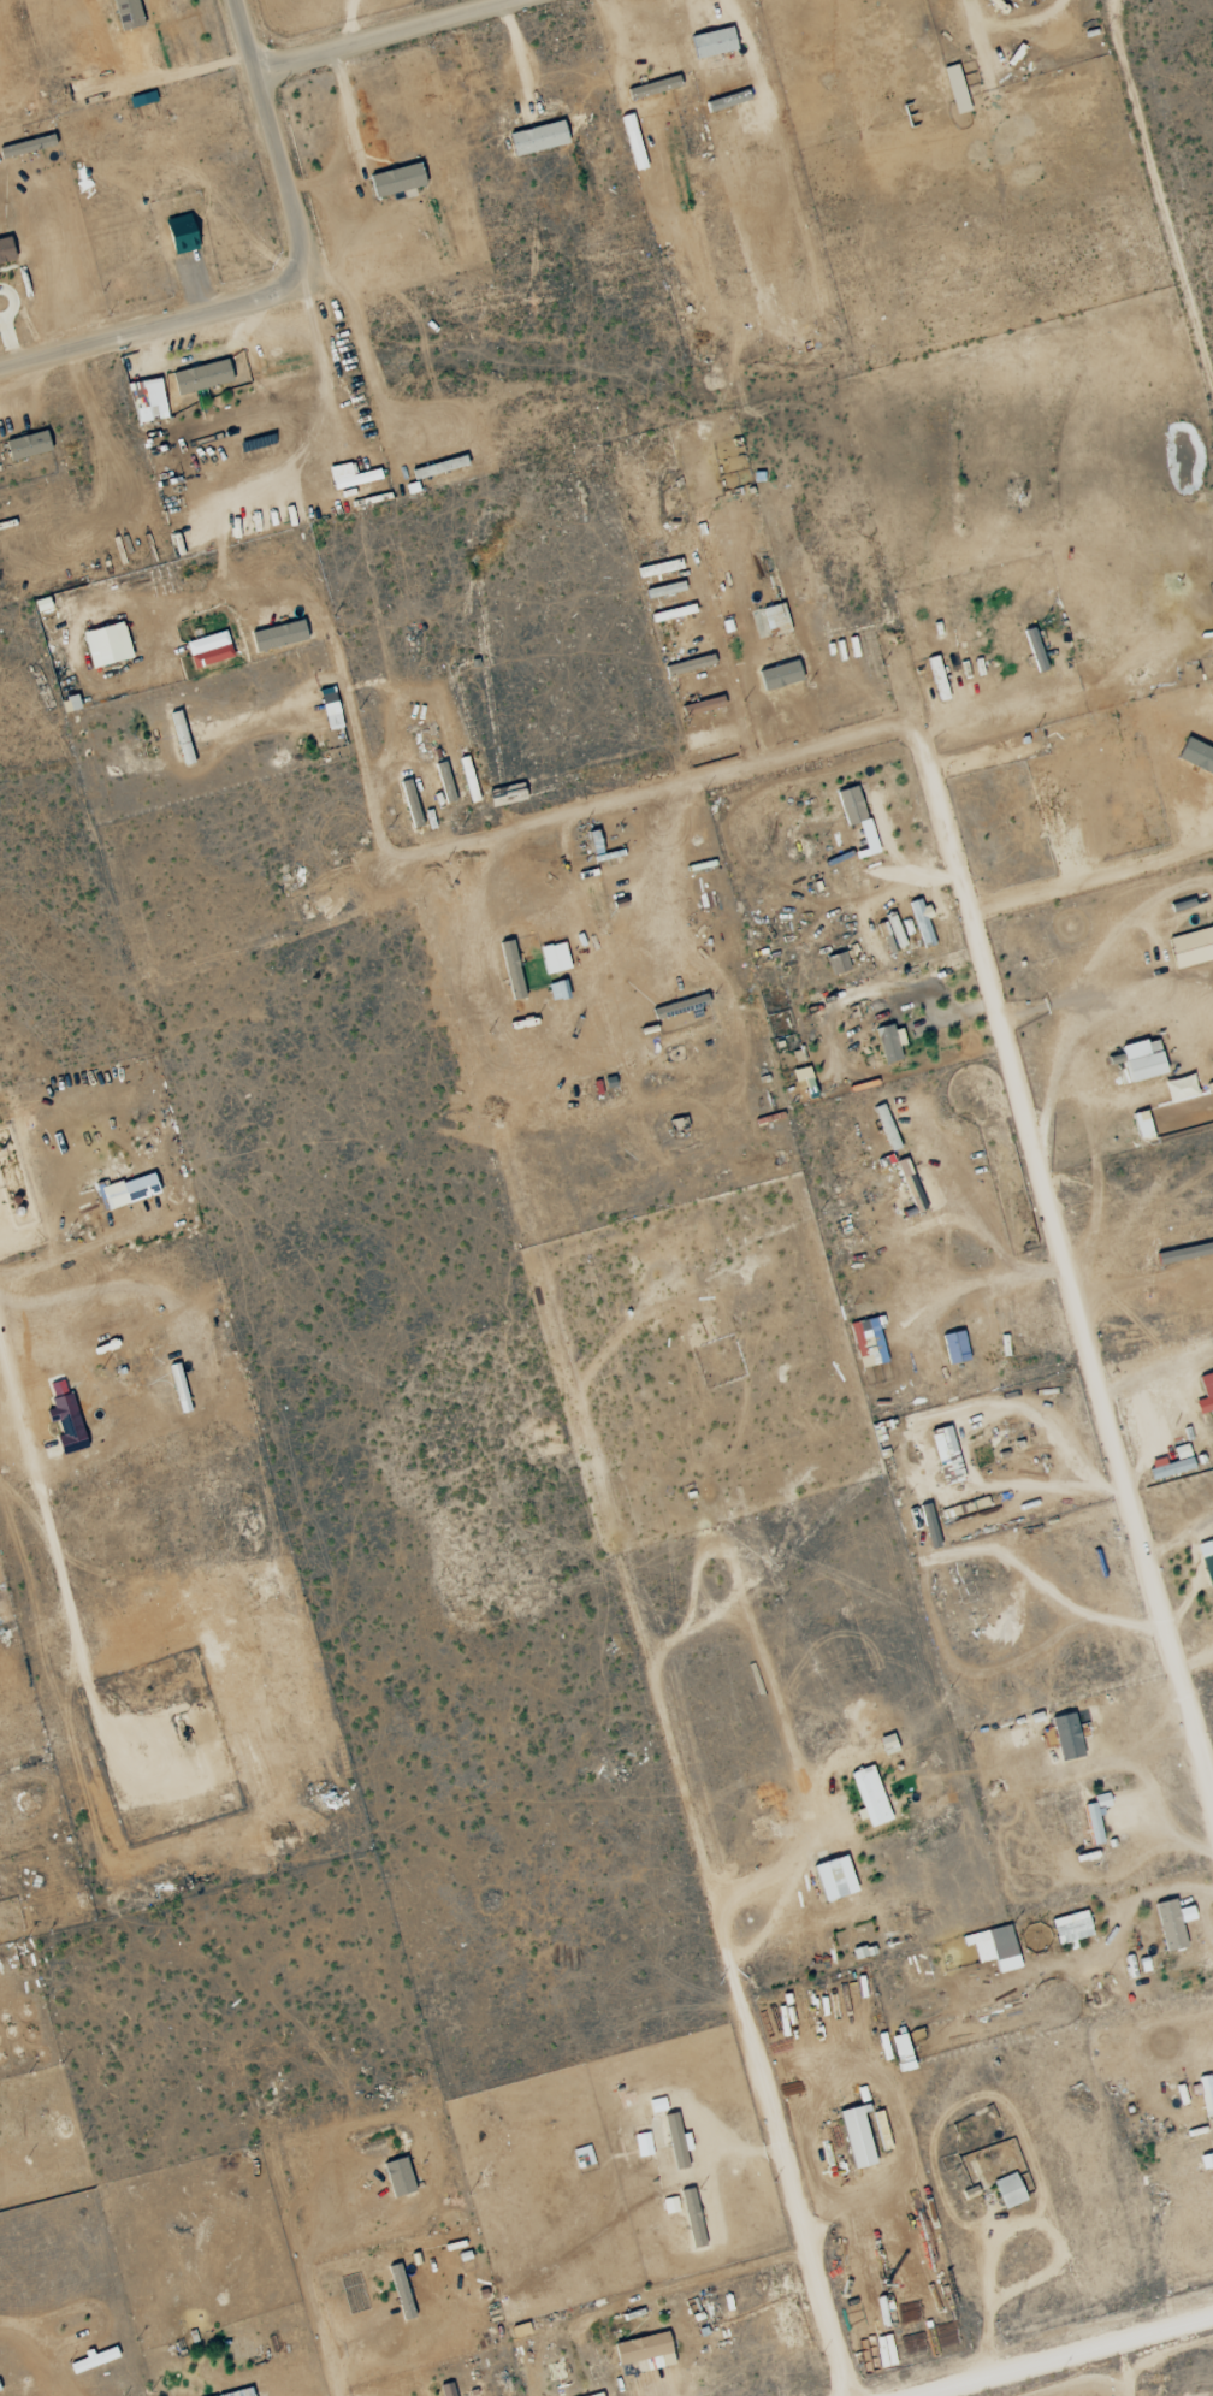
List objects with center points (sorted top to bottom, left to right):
building: (125, 13)
road: (391, 35)
building: (710, 45)
building: (652, 88)
building: (954, 90)
building: (141, 100)
building: (726, 101)
building: (536, 140)
building: (395, 182)
building: (174, 229)
building: (5, 252)
road: (290, 285)
building: (200, 377)
building: (146, 401)
building: (25, 445)
road: (265, 484)
building: (677, 613)
building: (773, 616)
building: (277, 637)
building: (105, 645)
building: (207, 650)
building: (1032, 651)
building: (777, 675)
building: (936, 679)
building: (67, 705)
building: (700, 706)
building: (329, 709)
building: (711, 735)
building: (181, 739)
building: (1195, 756)
building: (444, 786)
building: (850, 806)
building: (921, 923)
building: (893, 930)
building: (1190, 948)
building: (552, 958)
building: (836, 964)
building: (510, 970)
building: (557, 992)
building: (888, 1043)
building: (1141, 1061)
building: (799, 1075)
building: (137, 1188)
building: (866, 1343)
building: (953, 1348)
building: (178, 1389)
building: (1205, 1396)
building: (65, 1425)
building: (945, 1455)
building: (1206, 1560)
road: (865, 1574)
road: (631, 1631)
building: (1065, 1738)
building: (886, 1745)
building: (868, 1797)
building: (1095, 1817)
building: (832, 1879)
building: (1171, 1924)
building: (1069, 1928)
building: (993, 1948)
building: (857, 1953)
building: (656, 2106)
building: (854, 2137)
building: (675, 2141)
building: (641, 2146)
building: (396, 2178)
building: (1007, 2191)
building: (669, 2206)
building: (691, 2219)
building: (400, 2293)
road: (1049, 2338)
building: (643, 2353)
building: (90, 2361)
building: (445, 2390)
building: (239, 2392)
building: (596, 2395)

